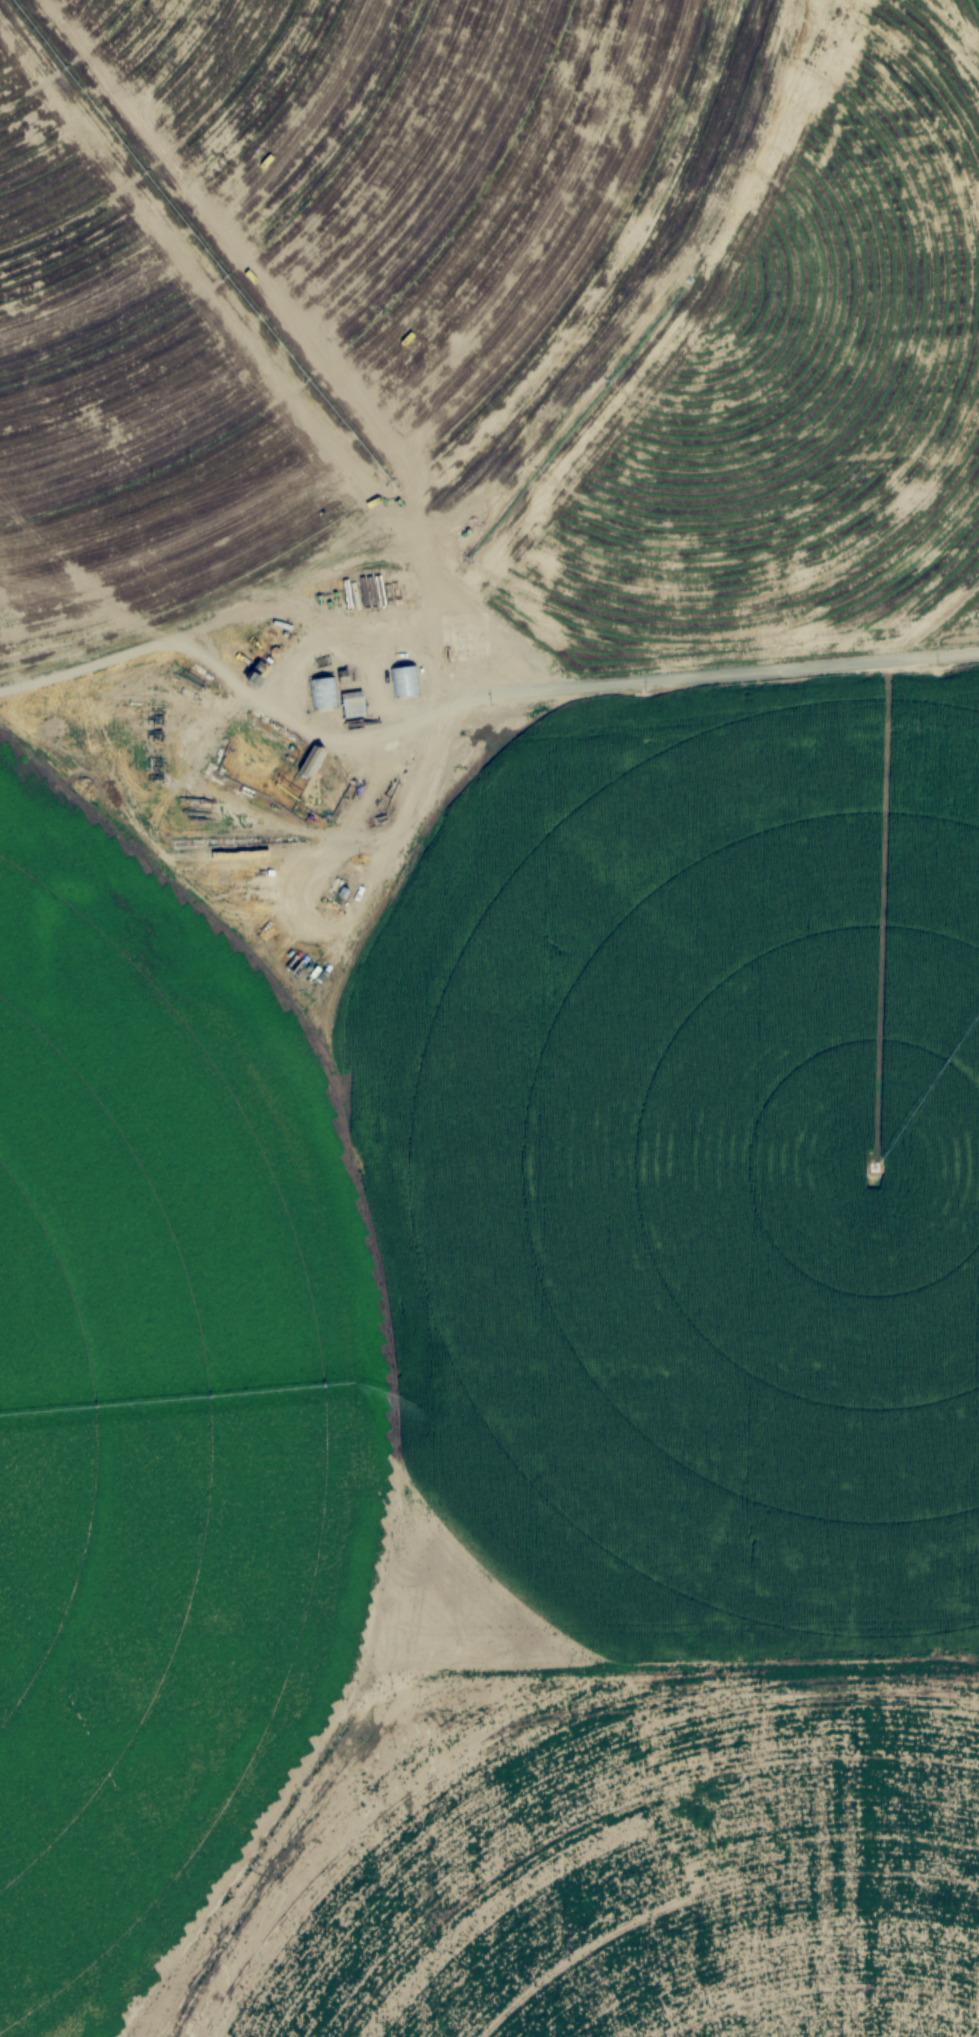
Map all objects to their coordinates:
building: (403, 682)
building: (322, 693)
road: (473, 703)
building: (353, 704)
building: (312, 761)
building: (381, 819)

